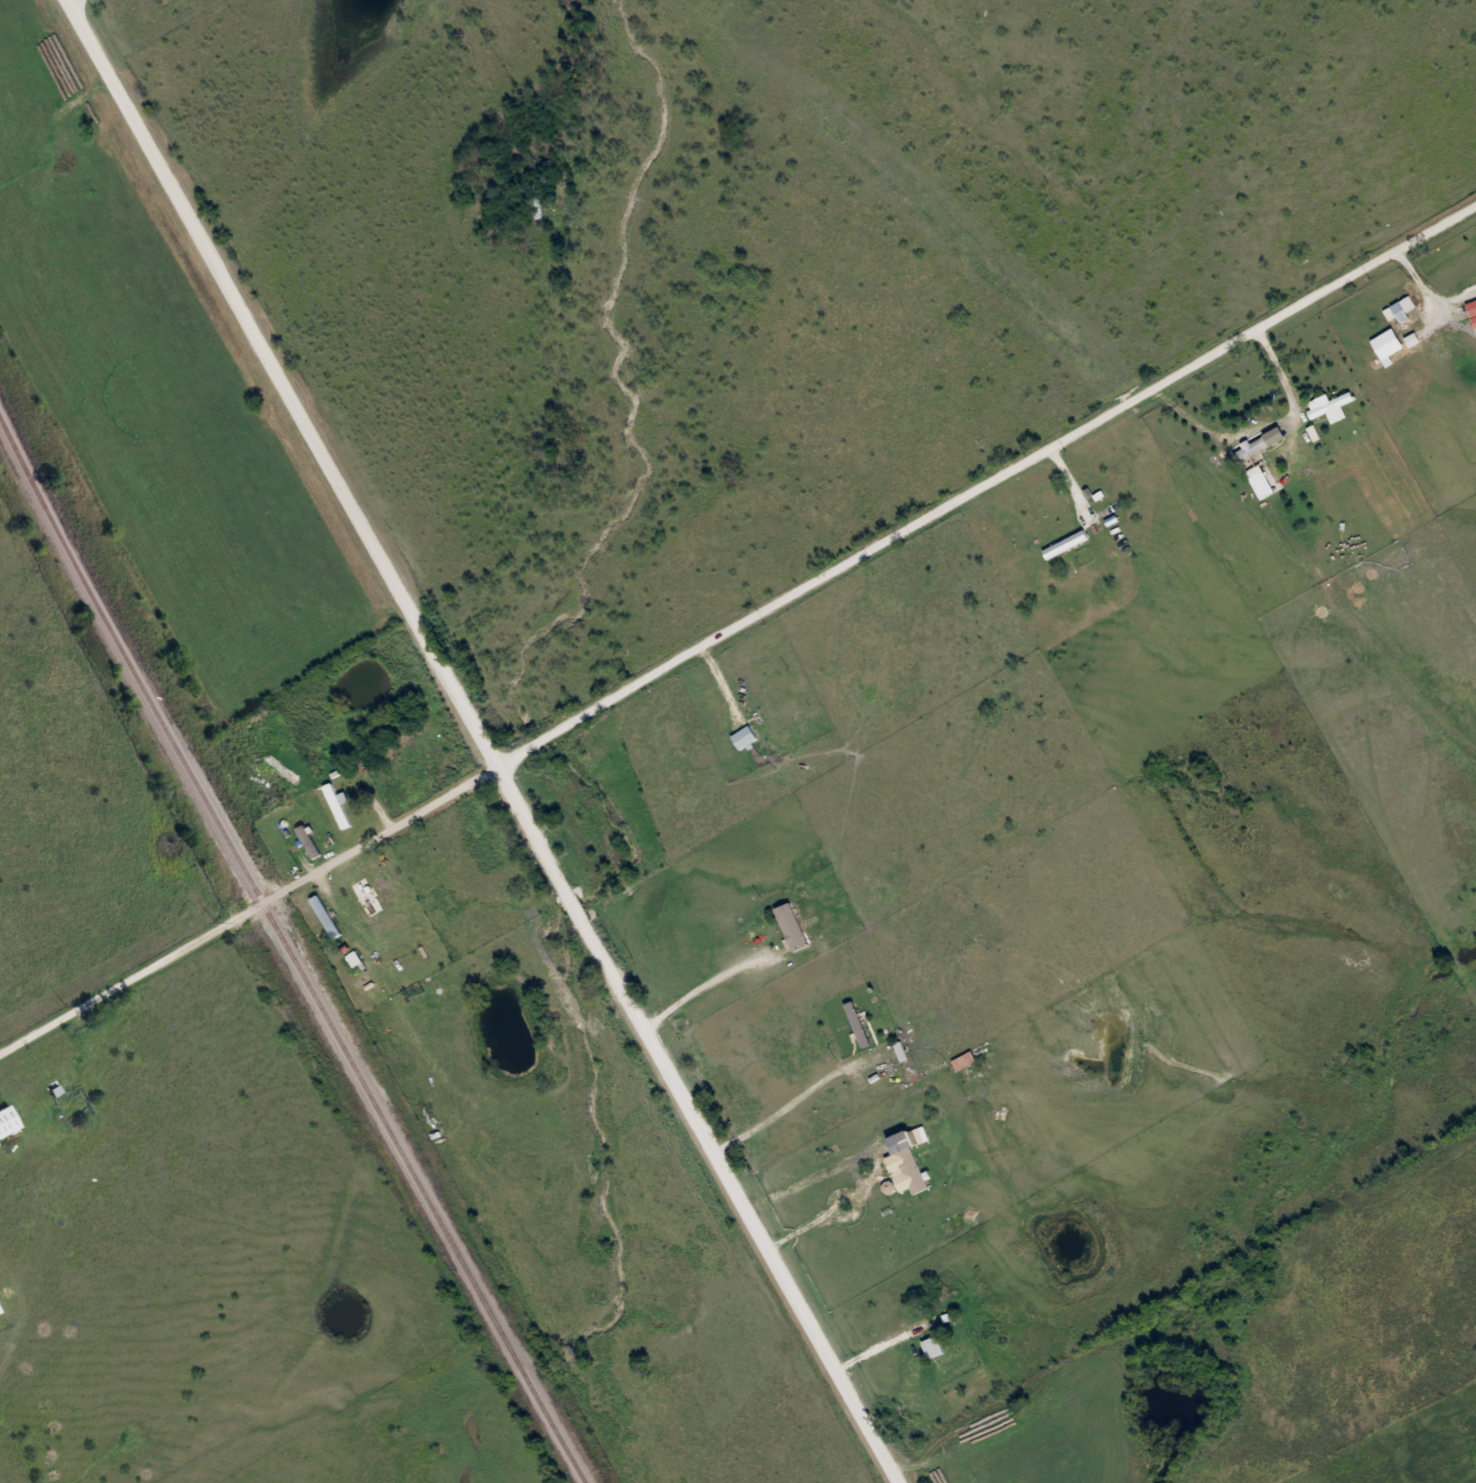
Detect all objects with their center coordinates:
road: (75, 6)
building: (1329, 404)
building: (1256, 448)
road: (738, 623)
building: (743, 737)
road: (483, 740)
building: (361, 764)
building: (336, 804)
building: (365, 896)
building: (388, 924)
building: (790, 926)
railway: (290, 953)
road: (699, 991)
building: (855, 1023)
building: (6, 1122)
building: (910, 1169)

